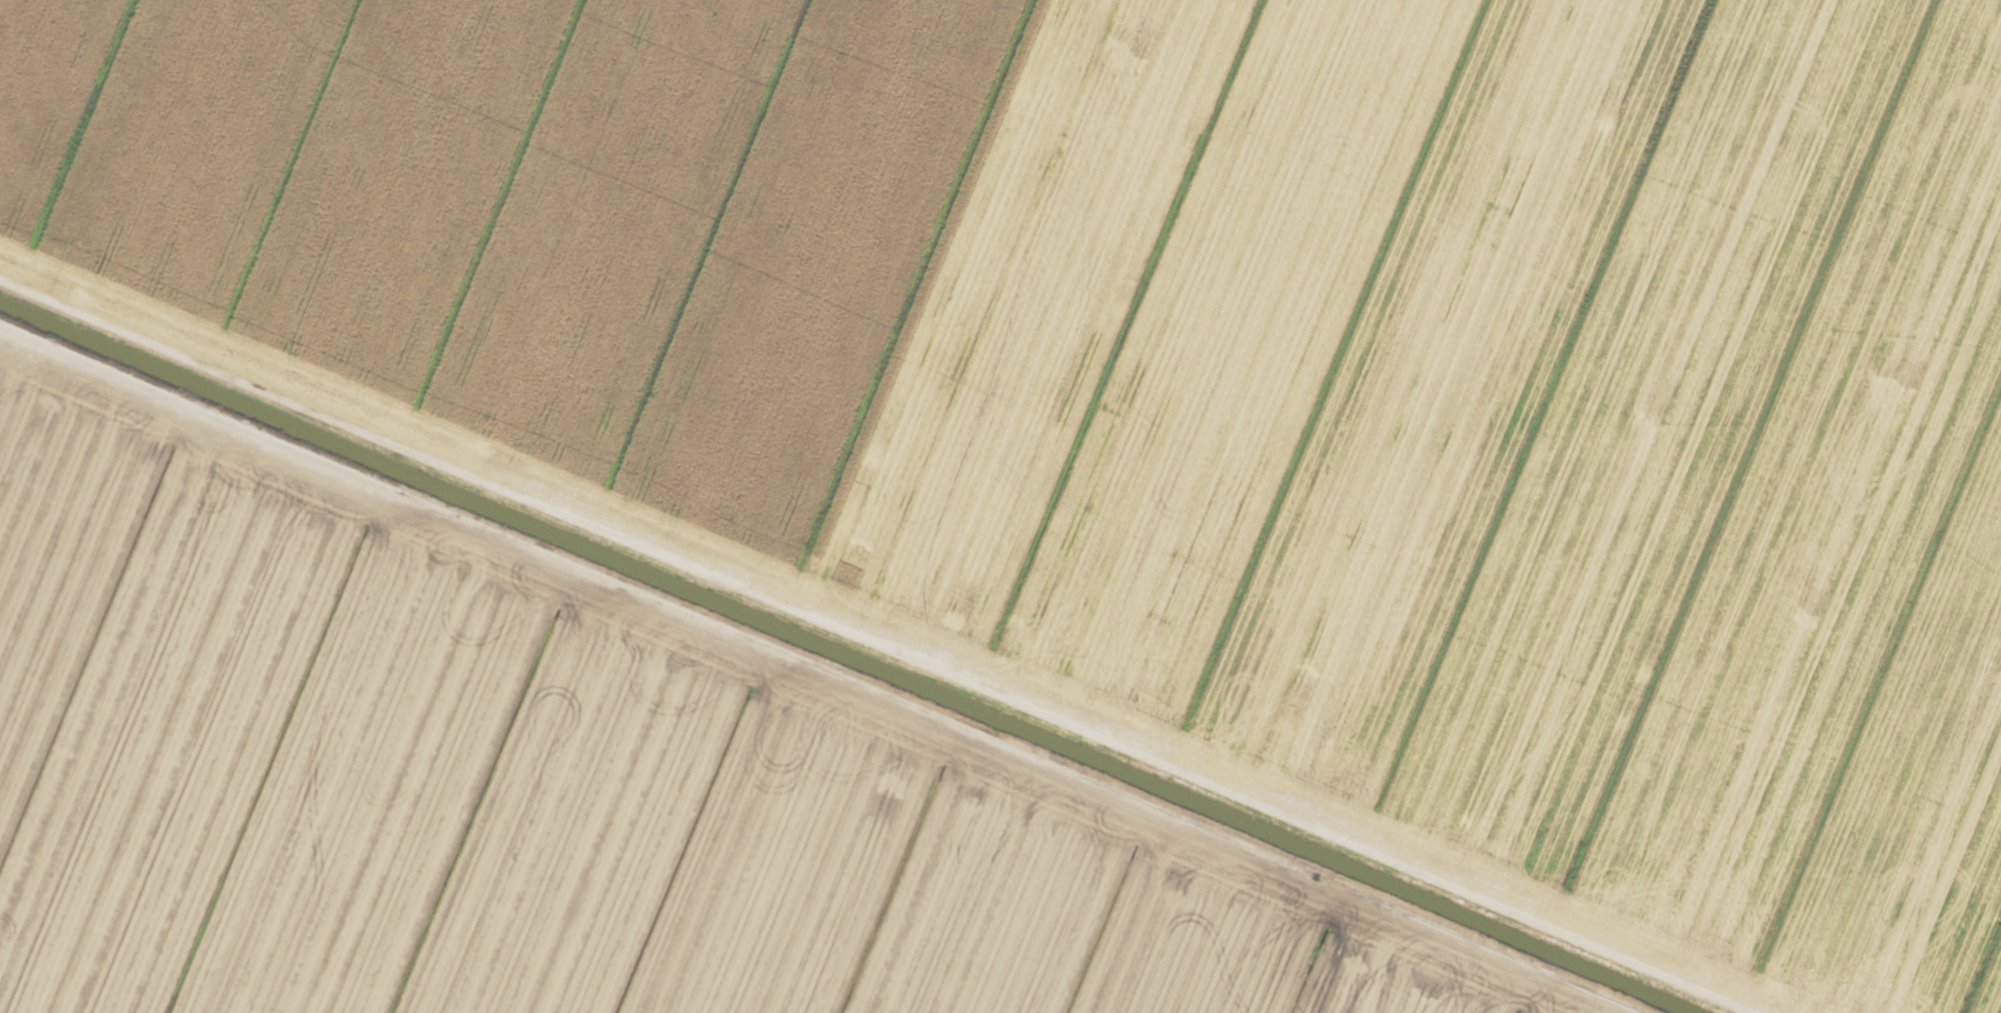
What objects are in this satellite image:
crop: (1000, 506)

